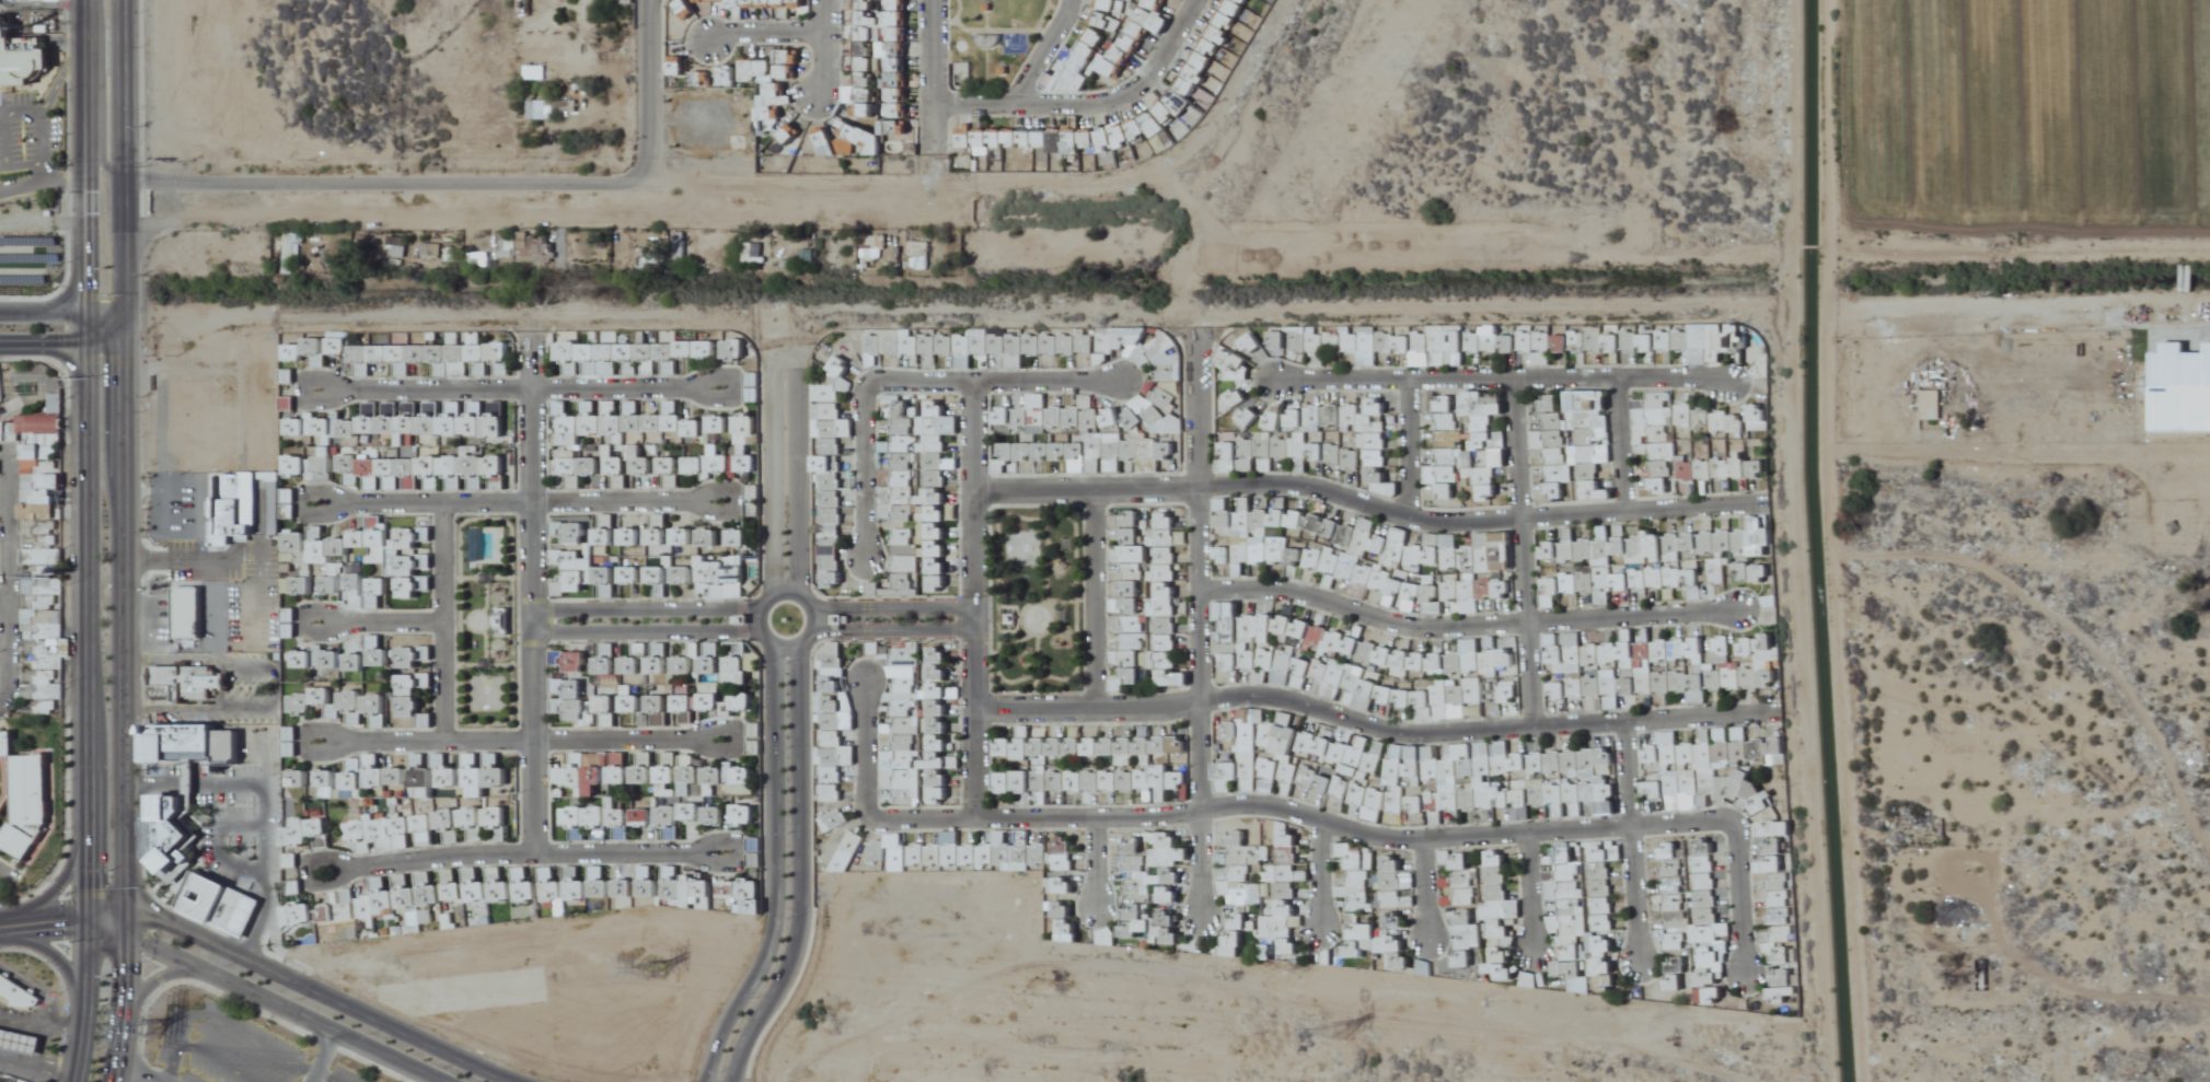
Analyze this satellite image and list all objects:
park: (994, 38)
park: (1038, 595)
park: (489, 616)
power tower: (668, 976)
power tower: (1351, 1033)
gas station: (20, 1038)
power tower: (166, 1044)

